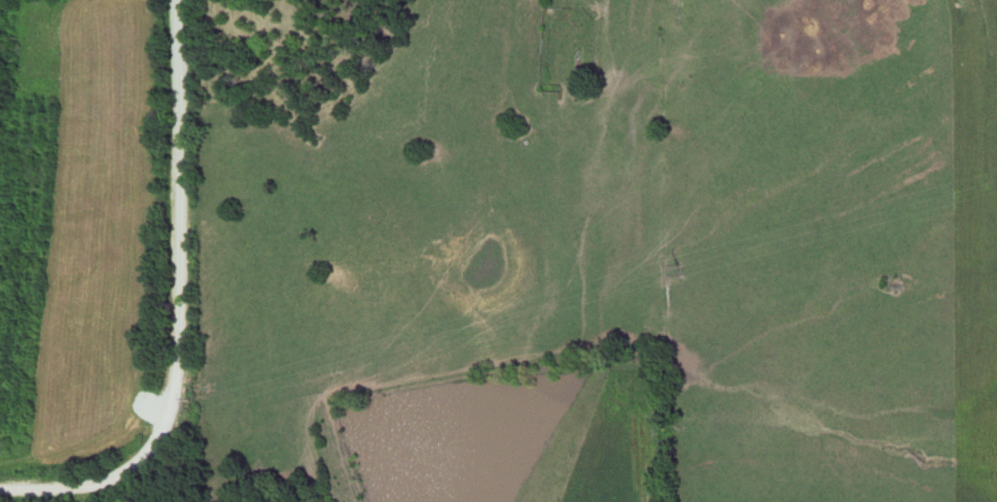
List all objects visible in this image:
power tower: (683, 268)
road: (180, 310)
power tower: (191, 408)

